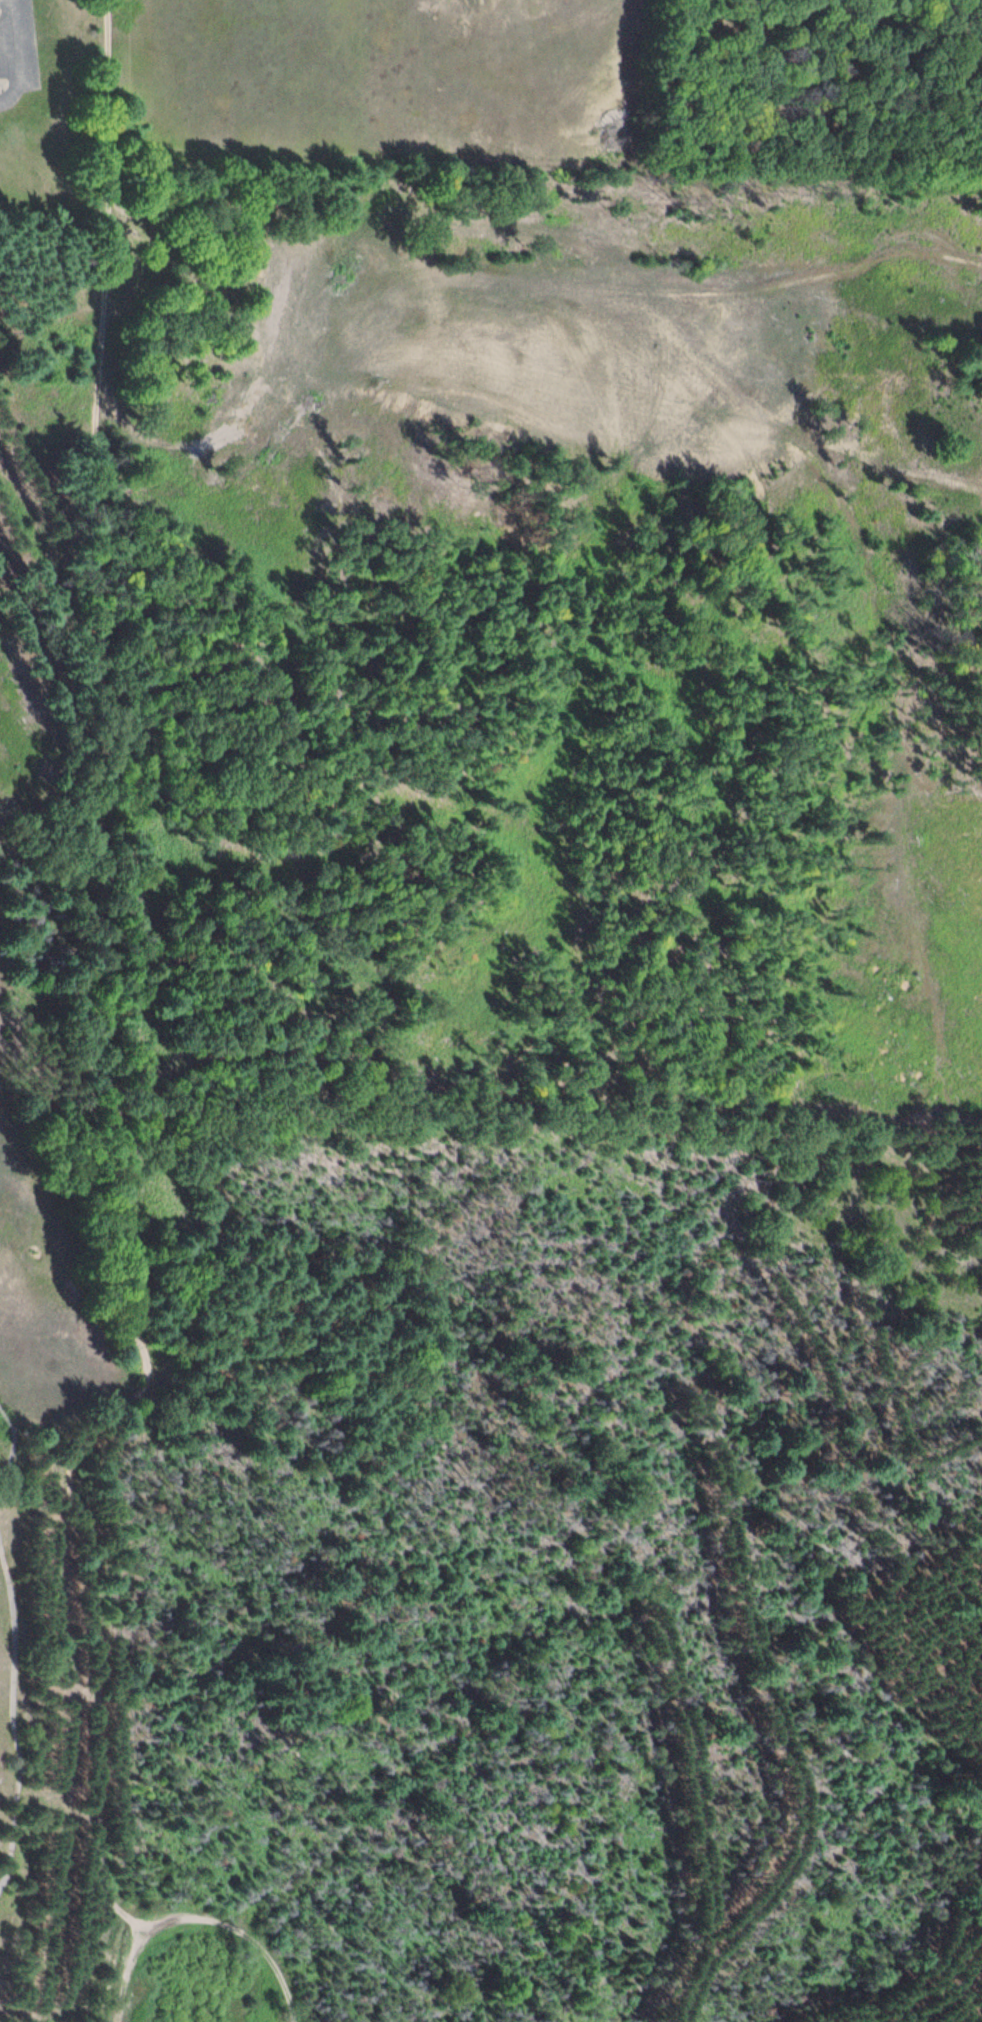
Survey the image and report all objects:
road: (120, 578)
road: (100, 1507)
road: (720, 1635)
road: (281, 1962)
road: (122, 1982)

